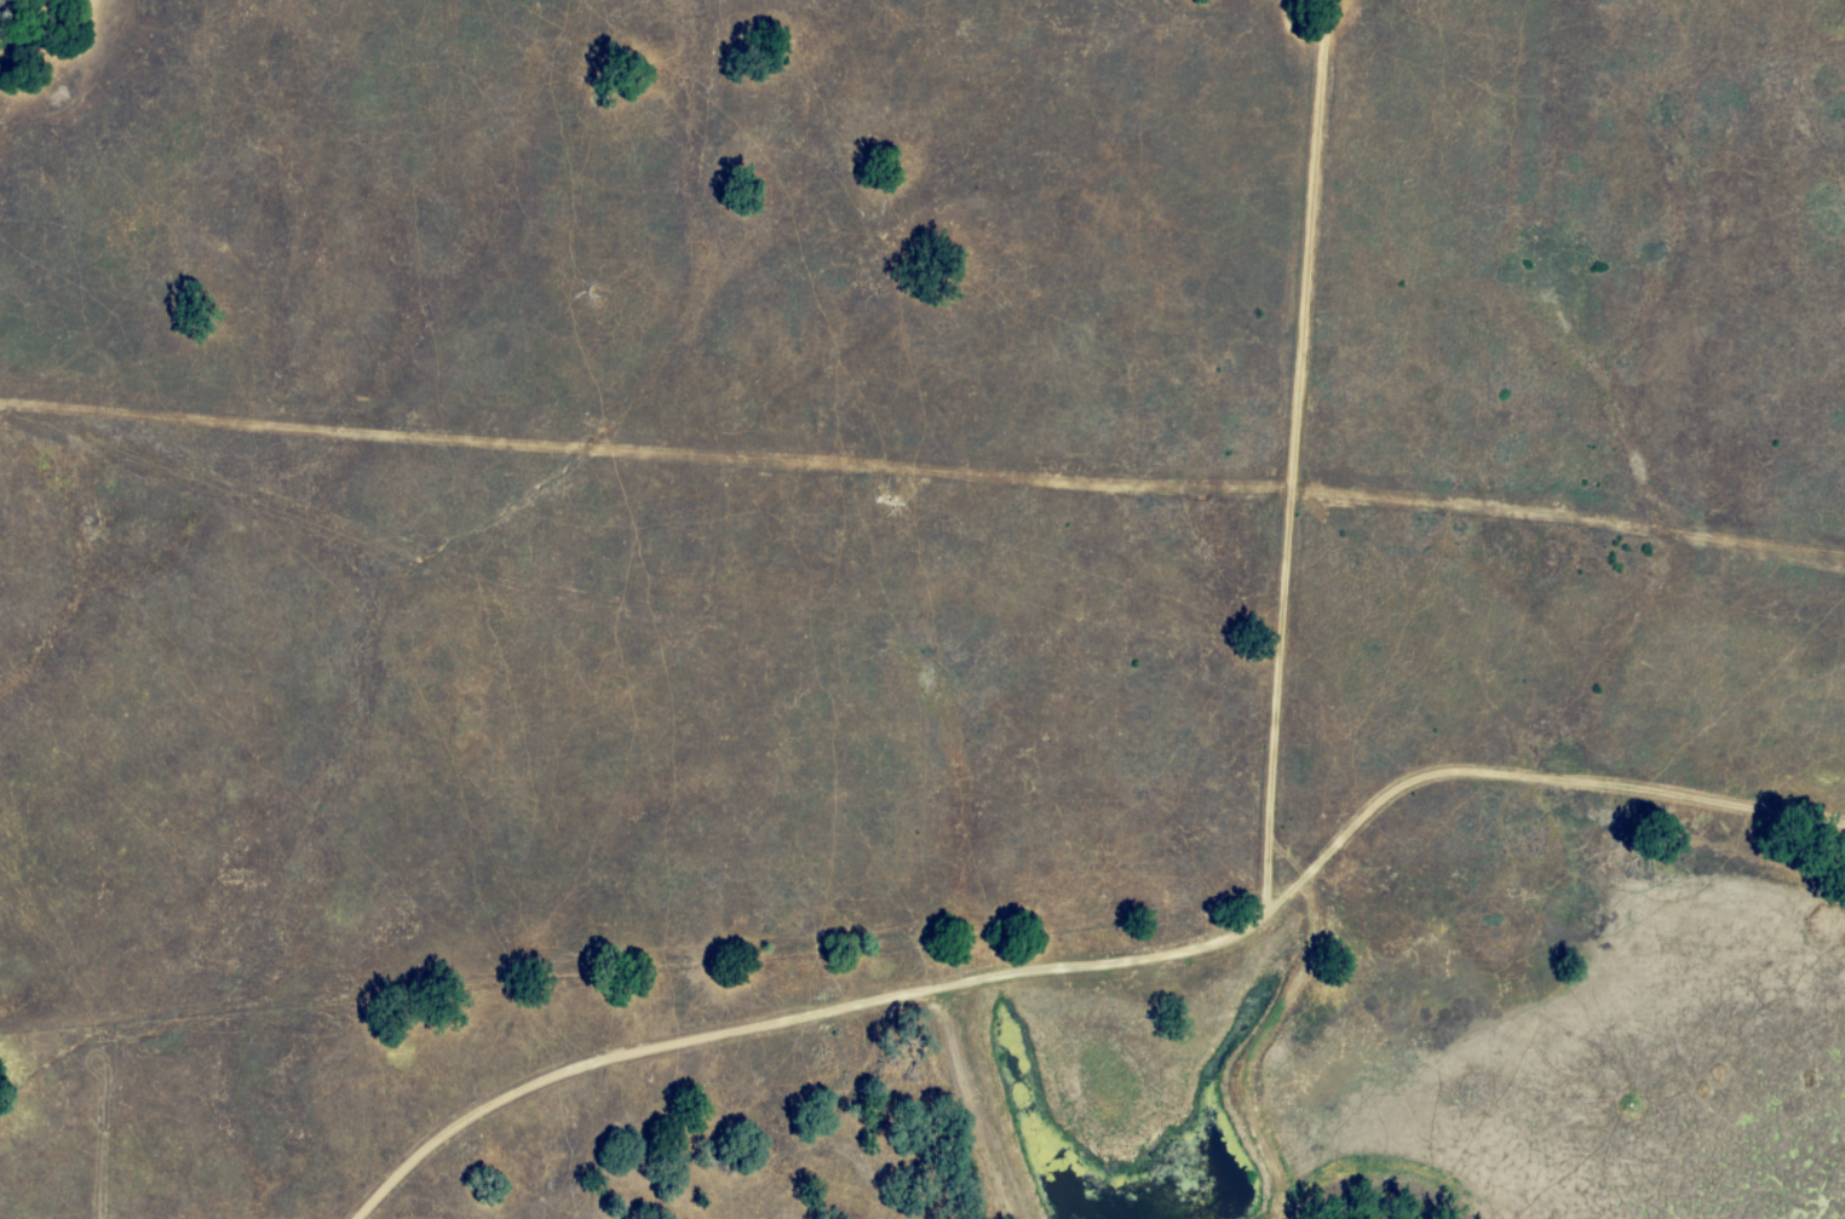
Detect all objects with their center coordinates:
road: (1295, 460)
road: (1381, 807)
road: (823, 1013)

